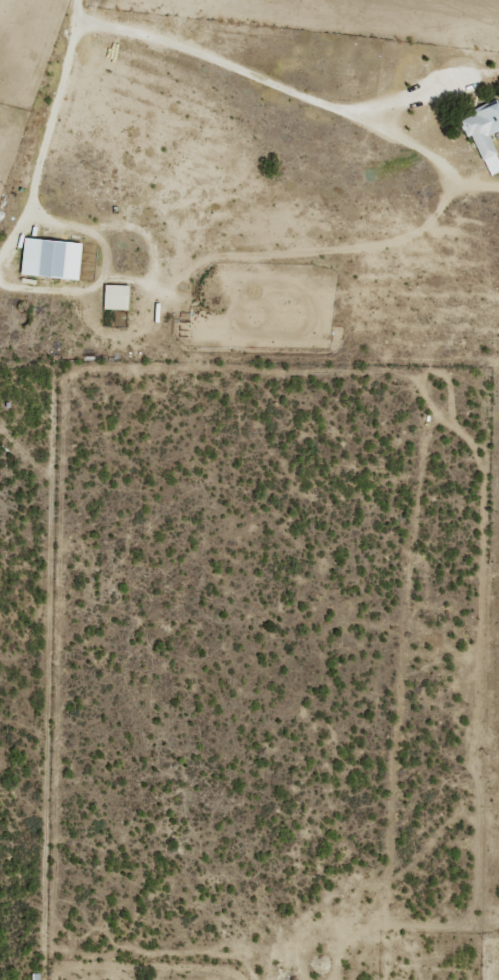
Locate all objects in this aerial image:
building: (482, 133)
building: (48, 258)
building: (114, 297)

